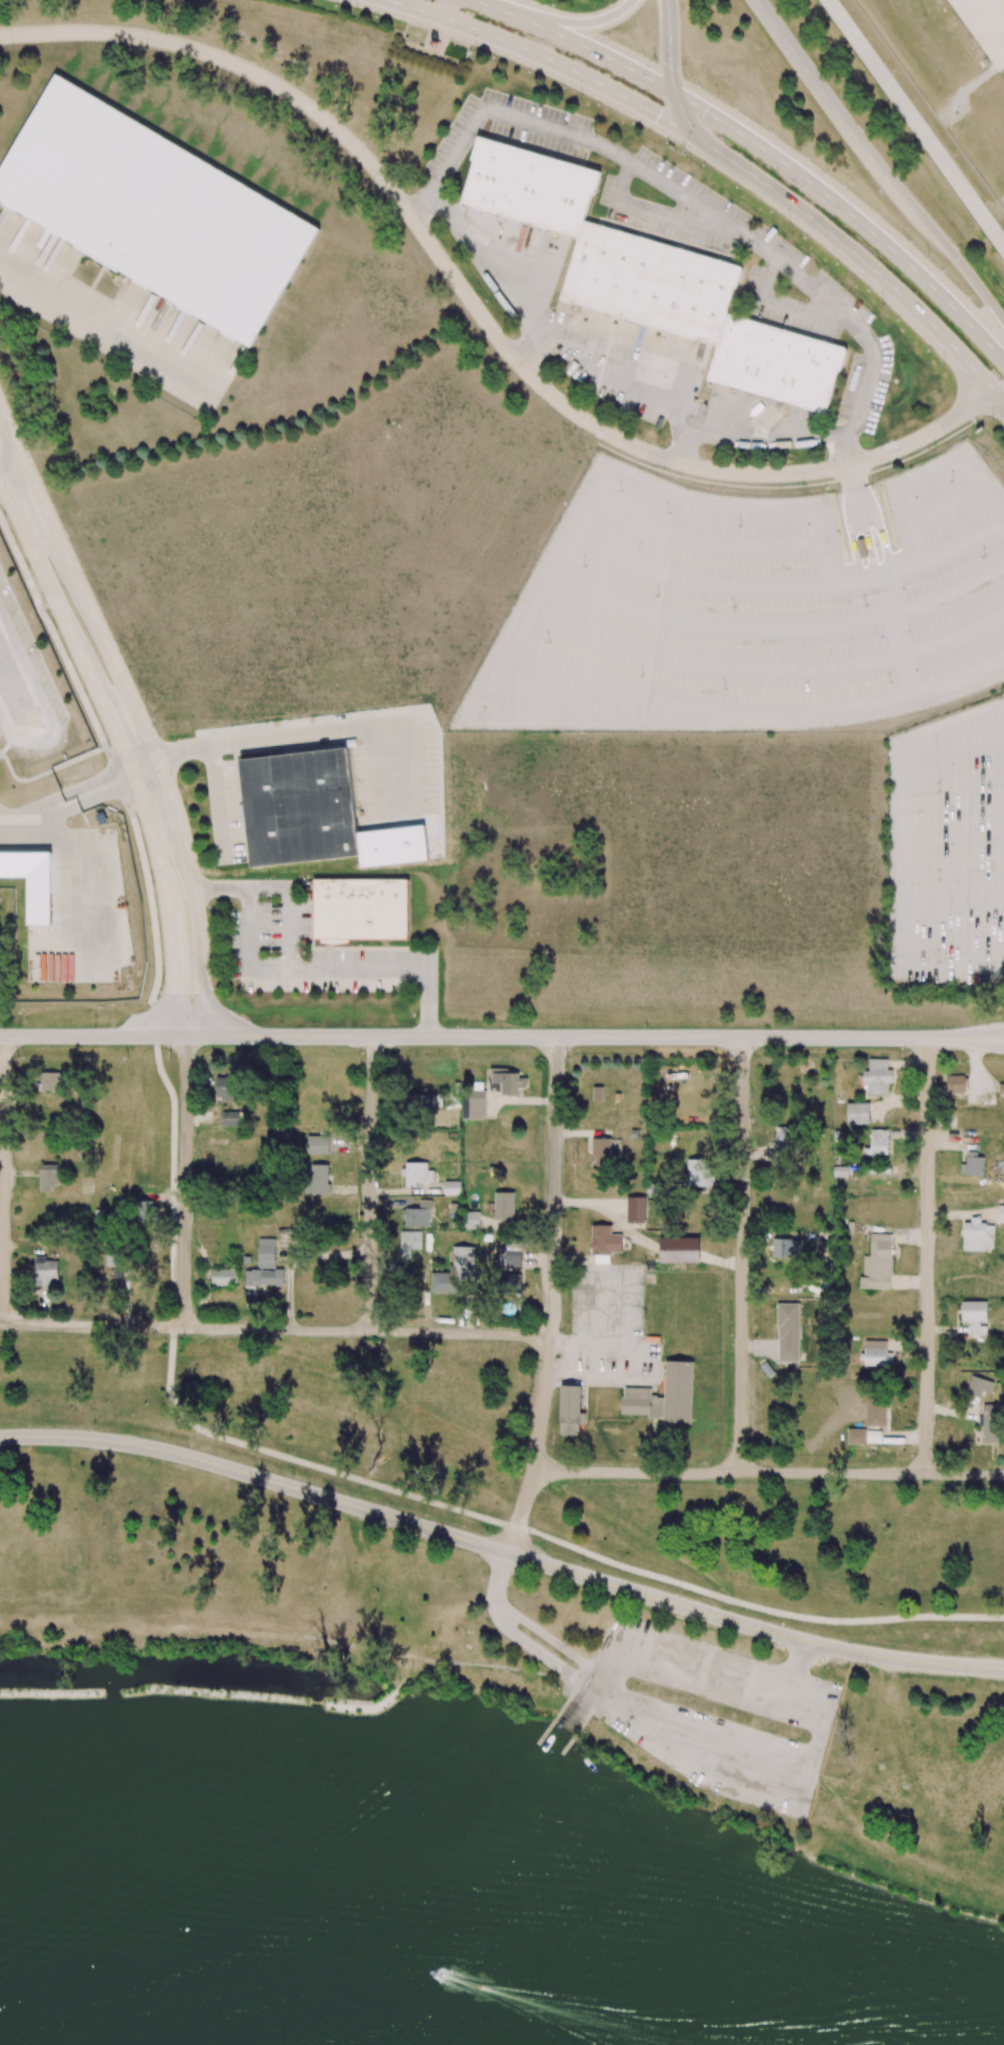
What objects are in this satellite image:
street lamp: (592, 7)
street lamp: (356, 10)
road: (573, 24)
airport apron: (985, 25)
road: (575, 42)
street lamp: (474, 50)
street lamp: (655, 57)
road: (550, 60)
traffic signals: (670, 65)
road: (671, 75)
street lamp: (580, 95)
street lamp: (718, 96)
airport: (930, 98)
street lamp: (843, 99)
road: (836, 110)
traffic signals: (705, 111)
traffic signals: (658, 115)
road: (916, 122)
street lamp: (683, 154)
street lamp: (827, 171)
street lamp: (880, 193)
road: (691, 197)
building: (153, 210)
road: (670, 214)
road: (850, 214)
street lamp: (789, 225)
street lamp: (928, 257)
road: (864, 261)
road: (965, 268)
building: (652, 280)
road: (785, 303)
street lamp: (882, 305)
road: (478, 312)
road: (108, 327)
road: (529, 348)
street lamp: (943, 366)
road: (609, 374)
road: (999, 391)
street lamp: (992, 422)
street lamp: (933, 442)
road: (686, 443)
road: (12, 467)
road: (927, 470)
street lamp: (802, 484)
street lamp: (838, 492)
road: (949, 505)
road: (876, 517)
road: (861, 521)
road: (699, 539)
road: (853, 544)
building: (862, 548)
road: (783, 586)
parking lot: (749, 609)
road: (773, 630)
road: (895, 635)
road: (763, 669)
road: (594, 679)
road: (476, 690)
road: (528, 697)
road: (42, 706)
road: (138, 712)
road: (326, 731)
road: (122, 748)
road: (949, 759)
road: (114, 765)
road: (80, 796)
road: (217, 799)
building: (299, 807)
road: (70, 871)
building: (32, 882)
road: (954, 908)
building: (360, 909)
road: (250, 947)
road: (303, 968)
street lamp: (214, 978)
road: (151, 1017)
road: (223, 1022)
street lamp: (281, 1024)
street lamp: (465, 1024)
street lamp: (646, 1024)
street lamp: (832, 1025)
road: (93, 1036)
road: (595, 1037)
street lamp: (384, 1054)
street lamp: (170, 1056)
street lamp: (17, 1057)
street lamp: (567, 1058)
street lamp: (753, 1058)
street lamp: (911, 1058)
building: (876, 1077)
building: (50, 1081)
building: (506, 1081)
building: (955, 1084)
building: (224, 1088)
building: (1001, 1088)
building: (598, 1093)
building: (415, 1102)
building: (473, 1104)
building: (858, 1113)
building: (229, 1118)
building: (452, 1119)
building: (877, 1142)
building: (318, 1144)
building: (784, 1145)
building: (601, 1152)
building: (973, 1165)
building: (840, 1171)
building: (699, 1172)
building: (417, 1174)
building: (47, 1177)
building: (318, 1178)
road: (174, 1179)
road: (1, 1180)
road: (187, 1180)
road: (371, 1182)
building: (452, 1188)
building: (504, 1206)
building: (635, 1209)
building: (1000, 1209)
building: (144, 1210)
building: (419, 1215)
building: (471, 1219)
building: (977, 1235)
building: (410, 1242)
building: (605, 1243)
building: (786, 1247)
building: (679, 1250)
building: (266, 1252)
building: (512, 1255)
road: (744, 1256)
road: (926, 1256)
building: (117, 1263)
building: (877, 1263)
building: (45, 1271)
building: (454, 1271)
building: (224, 1276)
building: (264, 1277)
building: (513, 1283)
road: (551, 1297)
building: (975, 1316)
road: (274, 1329)
building: (788, 1332)
street lamp: (181, 1337)
street lamp: (367, 1340)
building: (876, 1353)
building: (979, 1386)
building: (636, 1392)
building: (570, 1410)
building: (876, 1412)
building: (989, 1422)
street lamp: (96, 1423)
building: (856, 1436)
building: (874, 1436)
street lamp: (196, 1442)
road: (303, 1462)
street lamp: (294, 1473)
road: (769, 1475)
street lamp: (722, 1484)
street lamp: (921, 1489)
street lamp: (549, 1490)
street lamp: (391, 1503)
street lamp: (488, 1532)
road: (501, 1551)
street lamp: (585, 1560)
street lamp: (680, 1590)
road: (755, 1607)
street lamp: (775, 1618)
street lamp: (866, 1668)
street lamp: (967, 1679)
park: (473, 1723)

